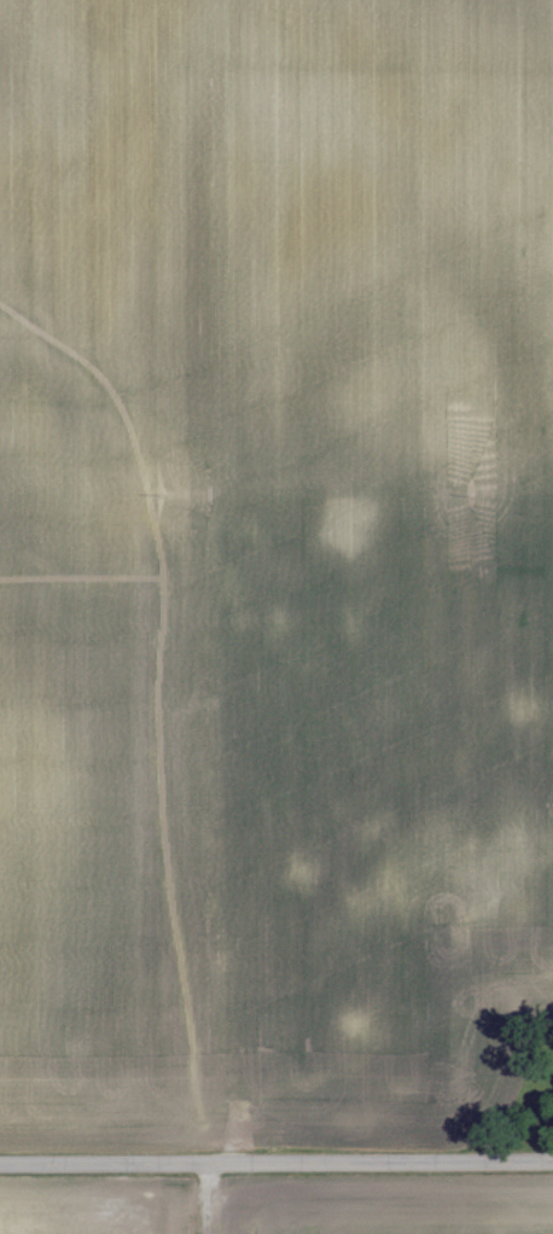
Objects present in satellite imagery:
road: (276, 1162)

